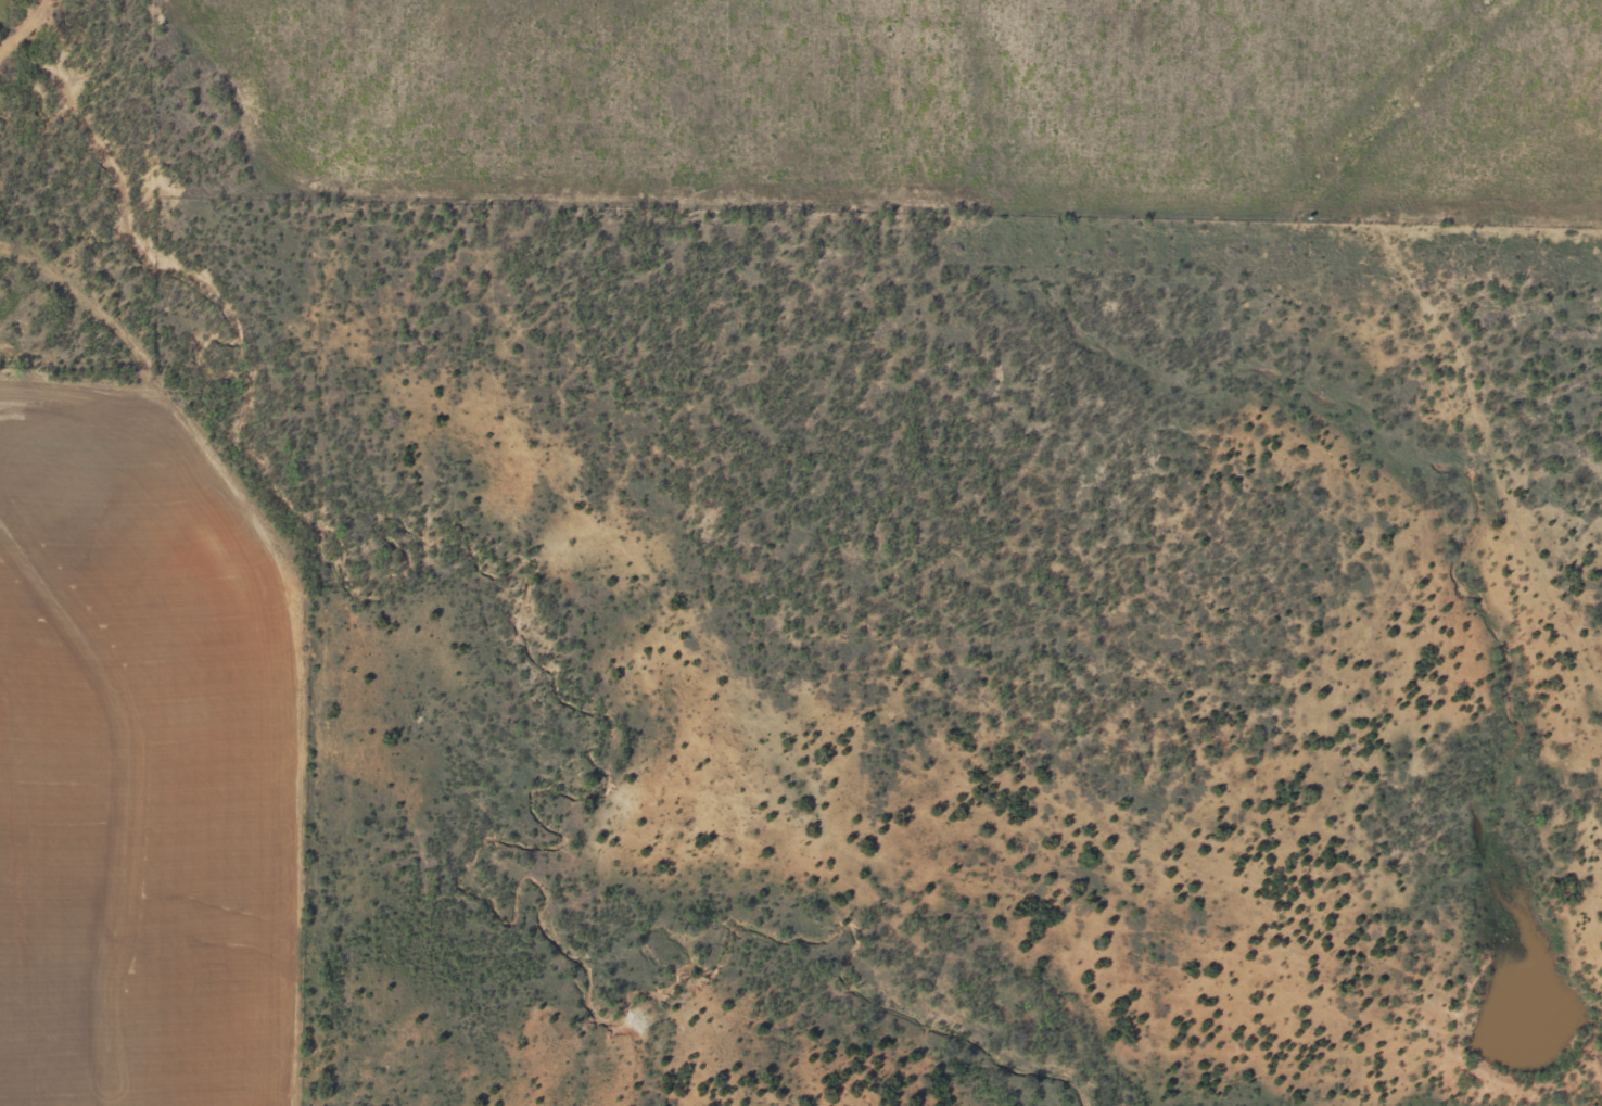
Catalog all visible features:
road: (1473, 458)

